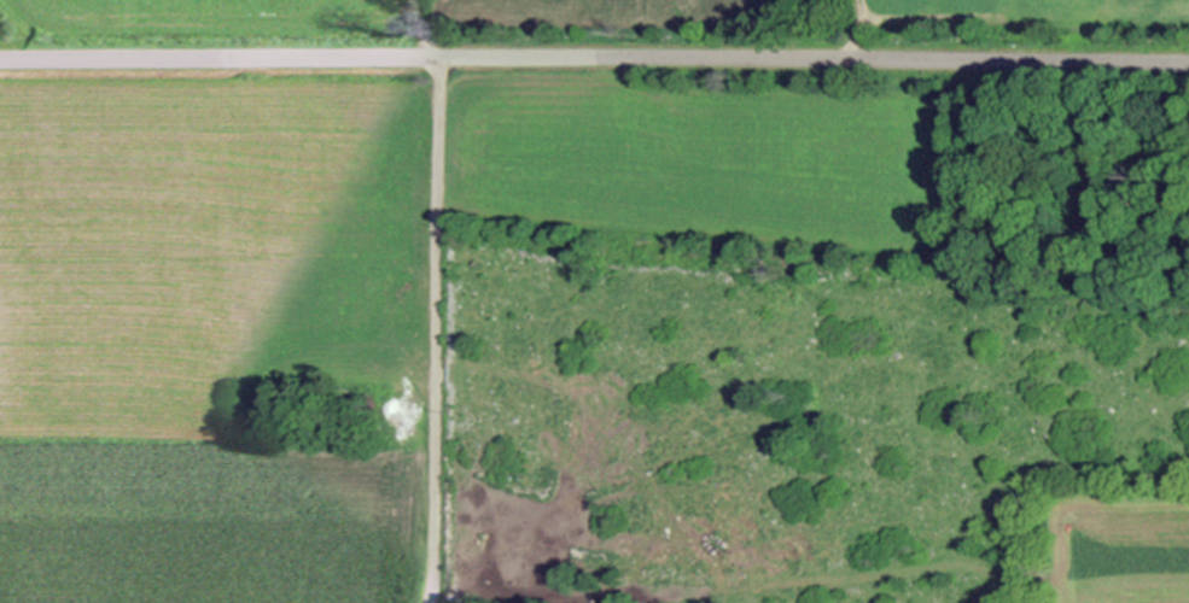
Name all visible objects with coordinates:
road: (594, 59)
road: (437, 332)

